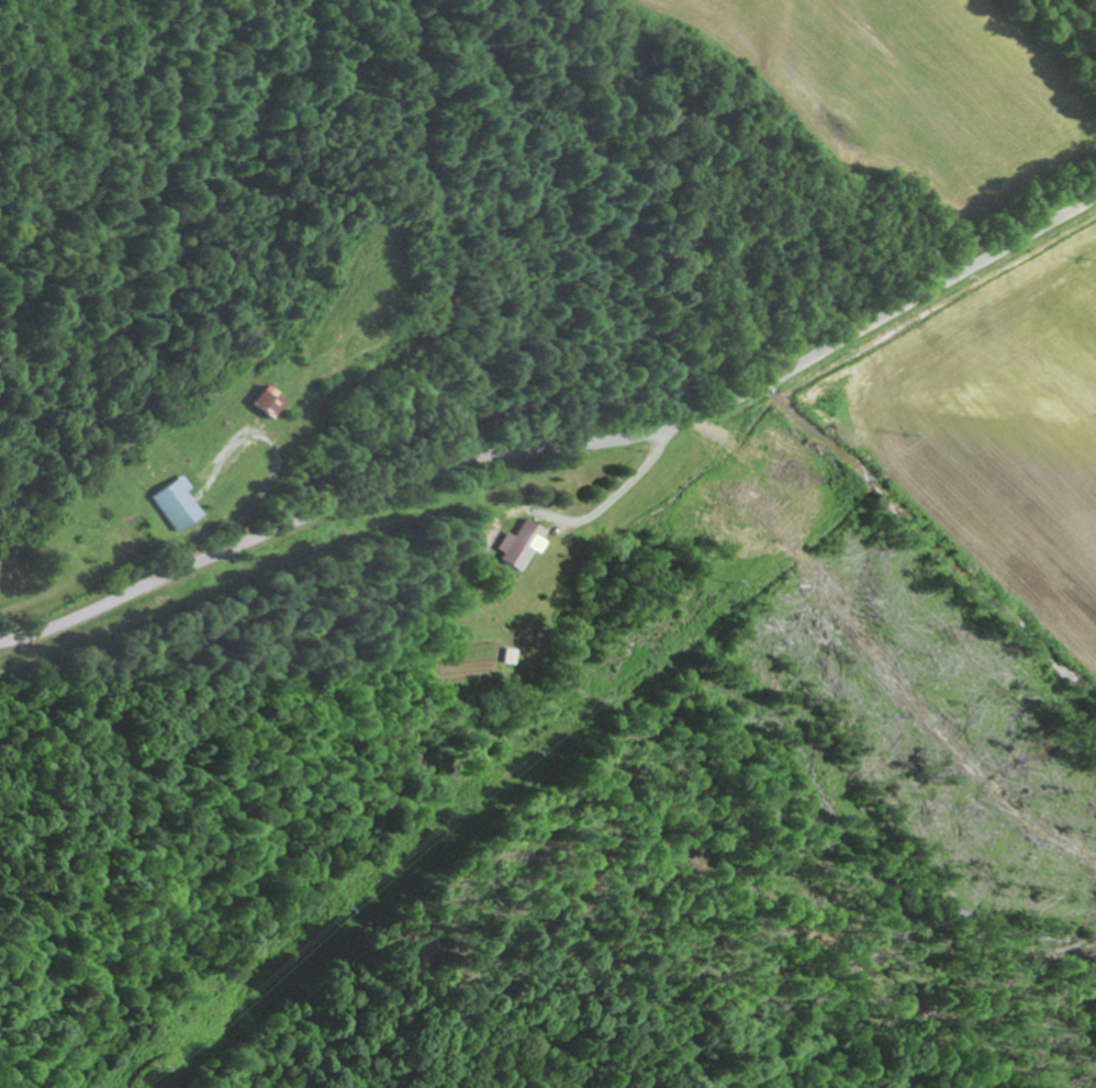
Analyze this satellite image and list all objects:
building: (269, 401)
road: (560, 446)
building: (176, 504)
building: (522, 543)

